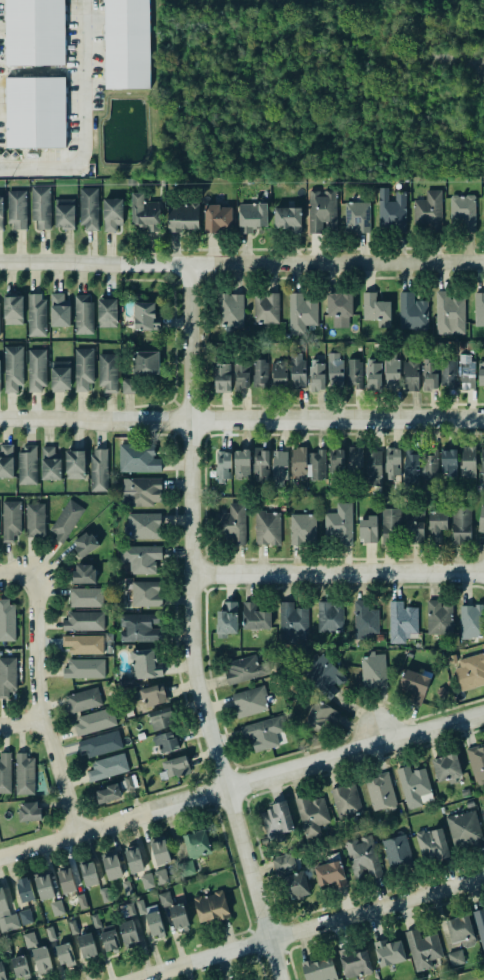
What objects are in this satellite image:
building: (33, 32)
building: (126, 44)
building: (34, 112)
road: (83, 122)
building: (39, 205)
building: (88, 207)
building: (16, 208)
building: (322, 210)
building: (429, 210)
building: (390, 211)
building: (1, 212)
building: (111, 213)
building: (146, 213)
building: (461, 213)
building: (65, 214)
building: (483, 215)
building: (356, 216)
building: (183, 217)
building: (216, 217)
building: (252, 217)
building: (288, 219)
road: (242, 263)
building: (338, 303)
building: (374, 307)
building: (266, 308)
building: (479, 308)
building: (229, 309)
building: (12, 310)
building: (60, 311)
building: (106, 311)
building: (411, 311)
building: (300, 312)
building: (450, 313)
building: (36, 314)
building: (83, 314)
building: (144, 315)
building: (146, 362)
building: (13, 368)
building: (36, 368)
building: (84, 369)
building: (296, 370)
building: (335, 370)
building: (466, 371)
building: (480, 371)
building: (108, 373)
building: (261, 373)
building: (355, 373)
building: (392, 373)
building: (448, 373)
building: (278, 375)
building: (318, 375)
building: (372, 375)
building: (430, 375)
building: (61, 376)
building: (242, 376)
building: (411, 376)
building: (222, 377)
building: (0, 383)
building: (129, 386)
road: (241, 421)
building: (6, 460)
building: (139, 460)
building: (355, 461)
building: (447, 461)
building: (468, 461)
building: (393, 462)
building: (50, 463)
building: (240, 463)
building: (75, 464)
building: (259, 464)
building: (297, 464)
building: (325, 464)
building: (26, 465)
building: (222, 465)
building: (373, 466)
building: (427, 466)
building: (411, 467)
building: (434, 467)
building: (481, 467)
building: (279, 469)
building: (98, 470)
building: (142, 491)
building: (481, 518)
building: (10, 519)
building: (35, 520)
building: (66, 520)
building: (459, 522)
building: (231, 523)
building: (340, 524)
building: (389, 524)
building: (436, 524)
building: (415, 525)
building: (143, 526)
building: (268, 528)
building: (302, 530)
building: (368, 530)
building: (84, 544)
building: (140, 557)
building: (82, 574)
road: (337, 574)
road: (17, 575)
building: (145, 592)
building: (85, 597)
building: (255, 617)
building: (330, 617)
building: (440, 618)
building: (226, 619)
building: (6, 620)
building: (364, 620)
building: (471, 620)
building: (83, 621)
building: (400, 621)
building: (292, 623)
road: (189, 627)
building: (139, 628)
building: (82, 643)
building: (145, 663)
building: (85, 669)
building: (243, 669)
building: (374, 671)
building: (470, 671)
building: (8, 676)
building: (325, 676)
building: (414, 683)
building: (154, 695)
building: (83, 700)
building: (250, 702)
road: (37, 707)
building: (321, 715)
building: (161, 720)
building: (95, 721)
road: (20, 727)
building: (263, 733)
building: (165, 740)
building: (100, 743)
building: (476, 761)
building: (107, 766)
building: (175, 766)
building: (446, 768)
building: (5, 772)
building: (23, 774)
road: (241, 785)
building: (413, 786)
building: (380, 792)
building: (109, 793)
building: (346, 801)
building: (30, 811)
building: (311, 814)
building: (483, 814)
building: (278, 818)
building: (465, 829)
building: (195, 844)
park: (0, 845)
building: (432, 845)
building: (159, 852)
building: (397, 852)
building: (134, 859)
building: (362, 859)
building: (284, 863)
building: (112, 867)
building: (187, 868)
building: (89, 874)
building: (329, 874)
building: (161, 877)
building: (65, 880)
building: (147, 881)
building: (296, 884)
building: (43, 885)
building: (127, 887)
building: (24, 890)
building: (80, 901)
building: (211, 907)
building: (57, 908)
building: (174, 912)
building: (6, 915)
building: (24, 916)
building: (155, 923)
building: (480, 924)
road: (309, 929)
building: (459, 930)
building: (127, 932)
building: (29, 939)
building: (110, 941)
building: (85, 945)
building: (422, 948)
building: (389, 953)
building: (64, 954)
building: (456, 958)
building: (40, 959)
building: (353, 962)
building: (19, 967)
building: (320, 969)
building: (1, 973)
park: (467, 975)

